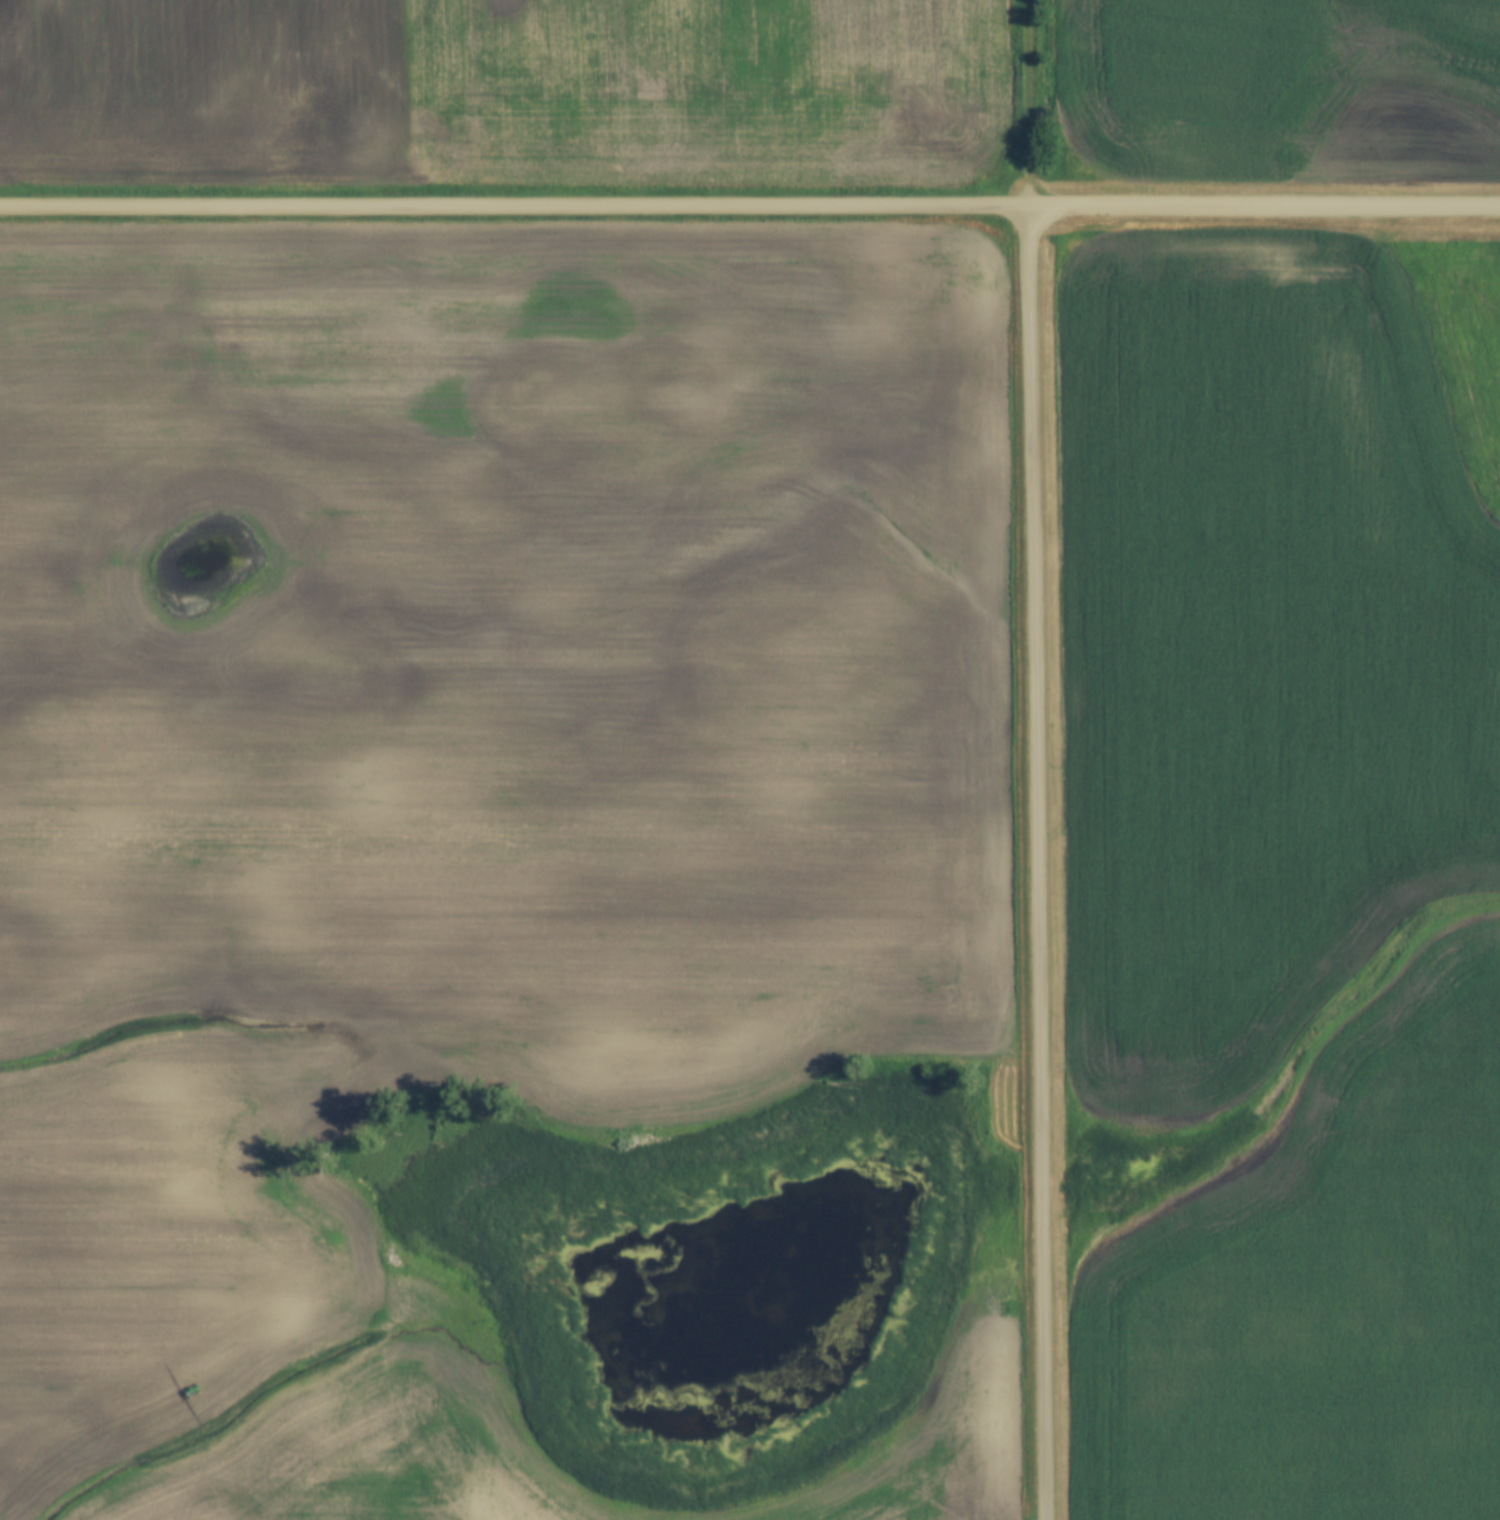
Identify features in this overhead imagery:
road: (1035, 104)
road: (750, 209)
road: (1043, 864)

